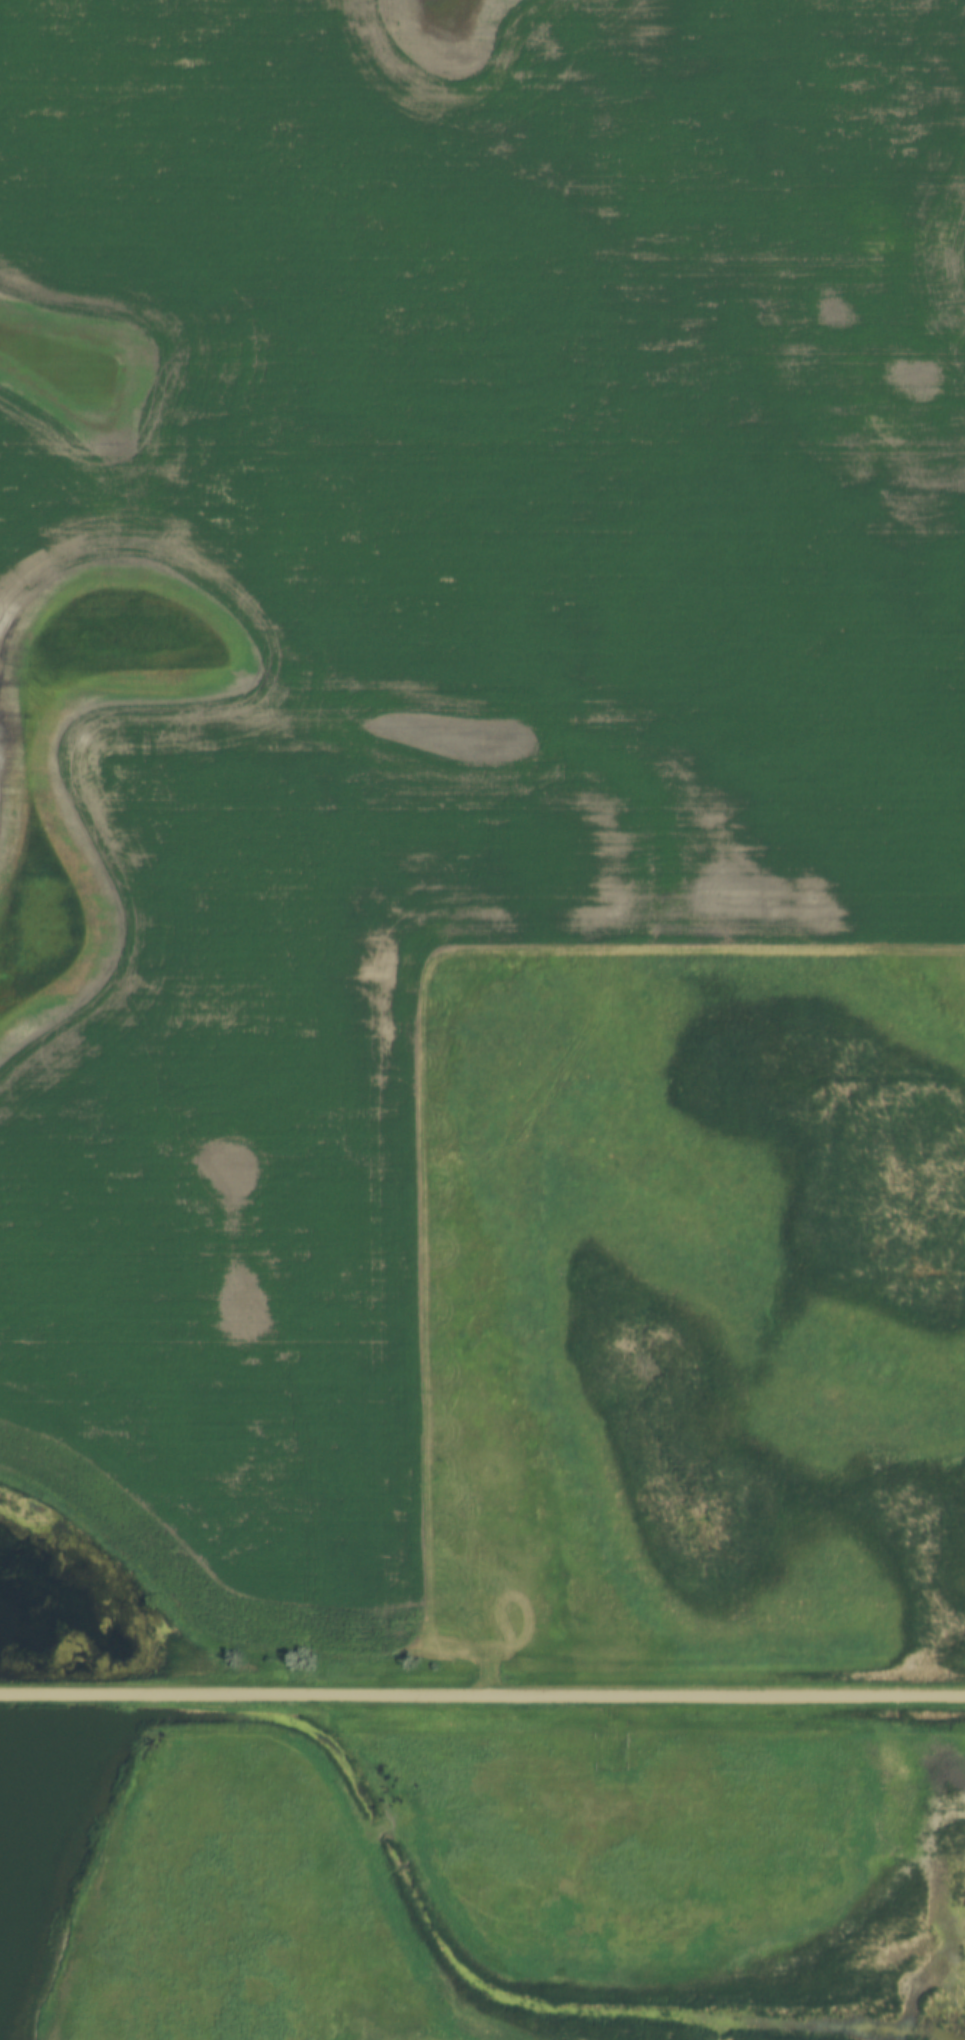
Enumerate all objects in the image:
road: (482, 1700)

